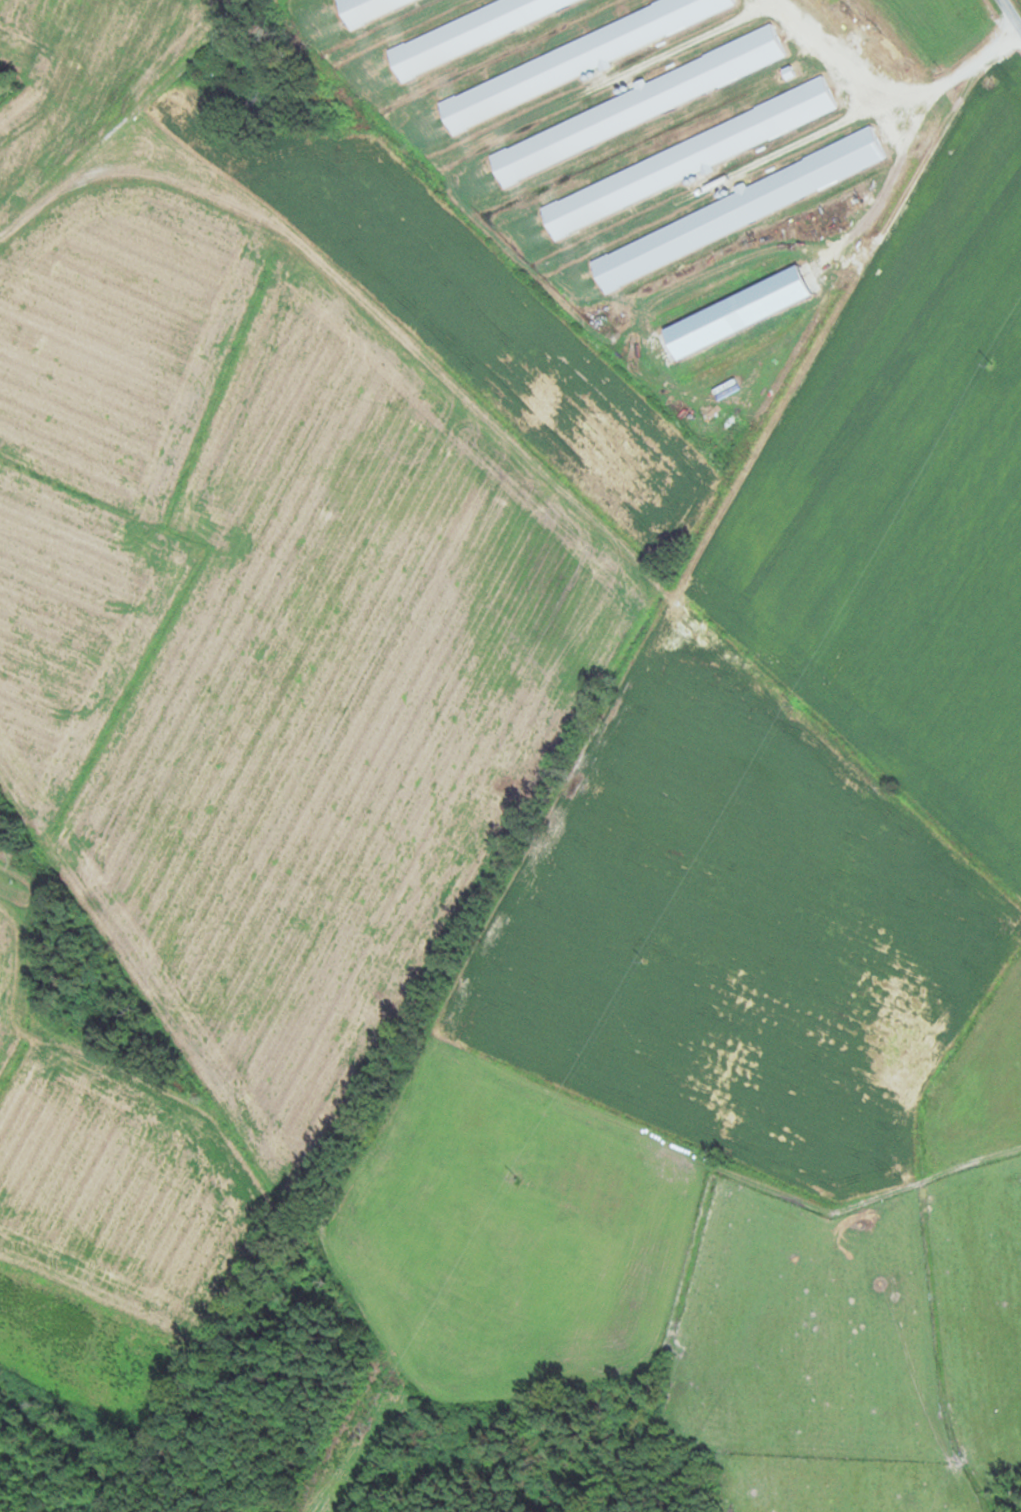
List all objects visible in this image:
road: (1012, 13)
building: (464, 29)
building: (578, 57)
building: (251, 99)
road: (97, 145)
building: (735, 209)

